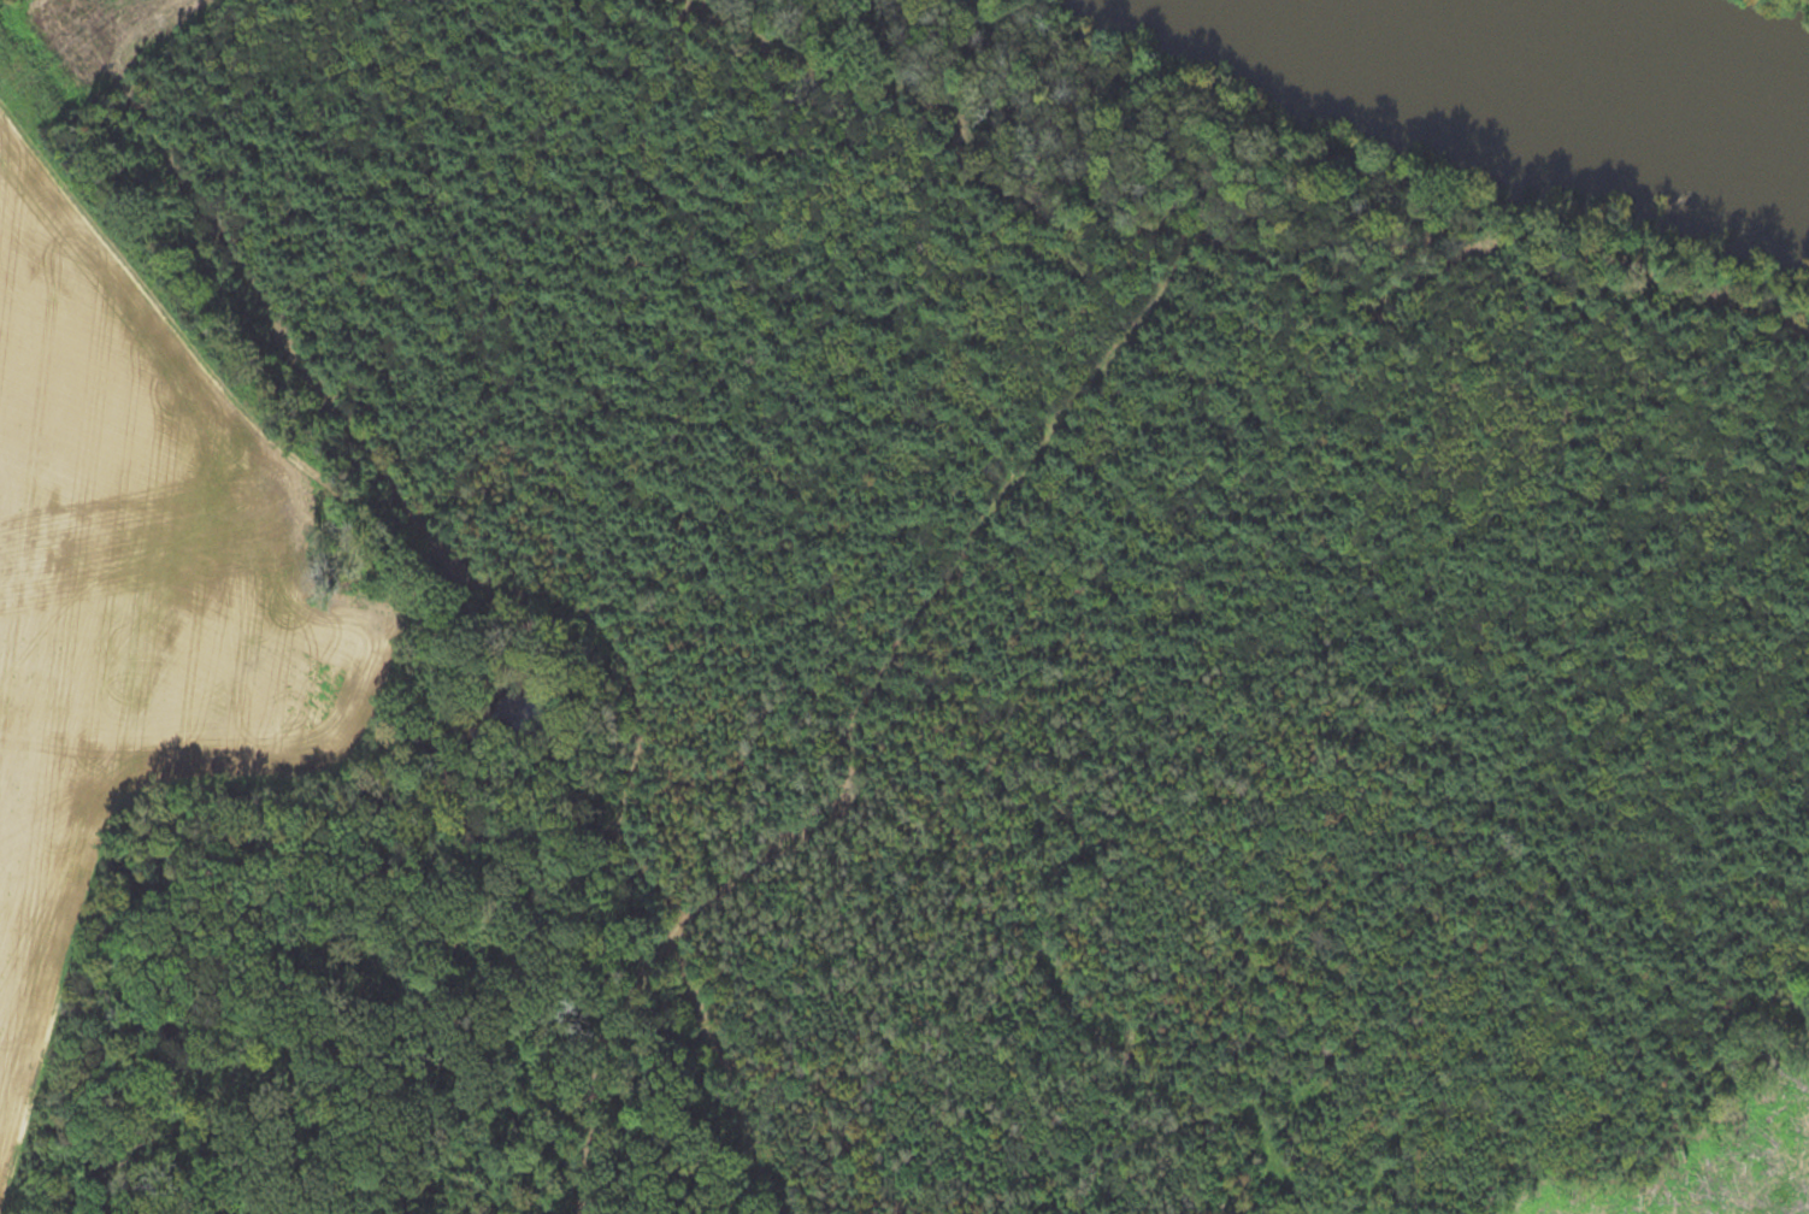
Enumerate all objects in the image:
river: (1593, 61)

